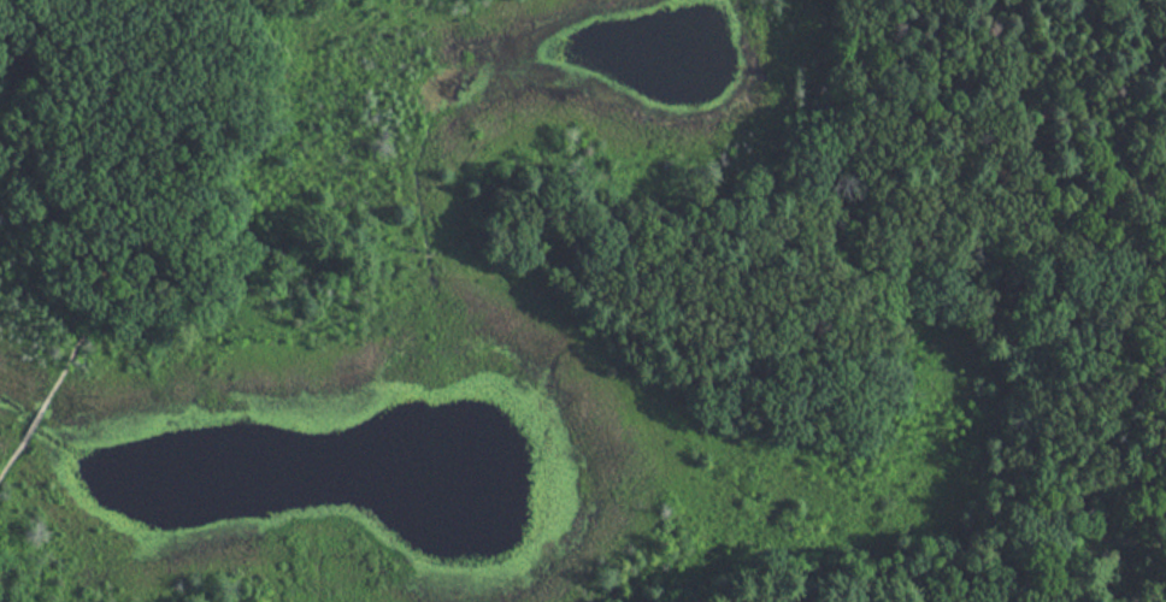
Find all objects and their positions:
road: (64, 102)
road: (163, 163)
park: (583, 301)
road: (45, 402)
road: (990, 589)

